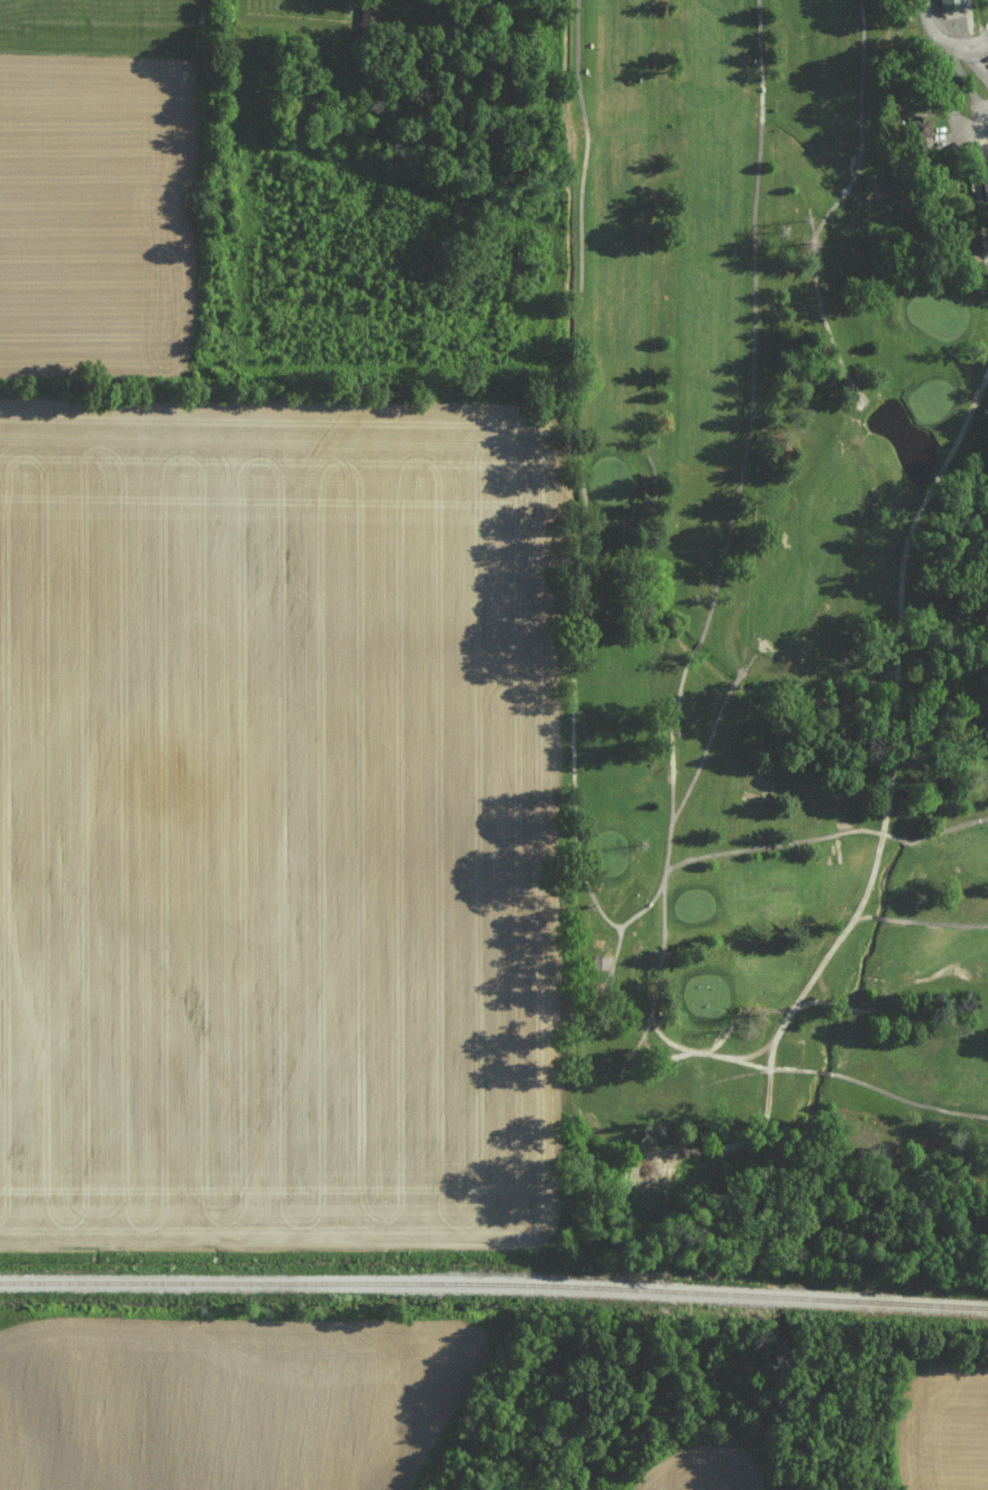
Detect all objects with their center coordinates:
building: (951, 5)
road: (941, 25)
building: (918, 144)
road: (969, 156)
building: (983, 167)
road: (854, 168)
road: (580, 321)
road: (747, 411)
road: (906, 540)
park: (781, 640)
road: (569, 752)
road: (697, 760)
road: (826, 834)
road: (662, 898)
road: (920, 920)
road: (826, 955)
road: (758, 1008)
road: (856, 1079)
railway: (494, 1289)

